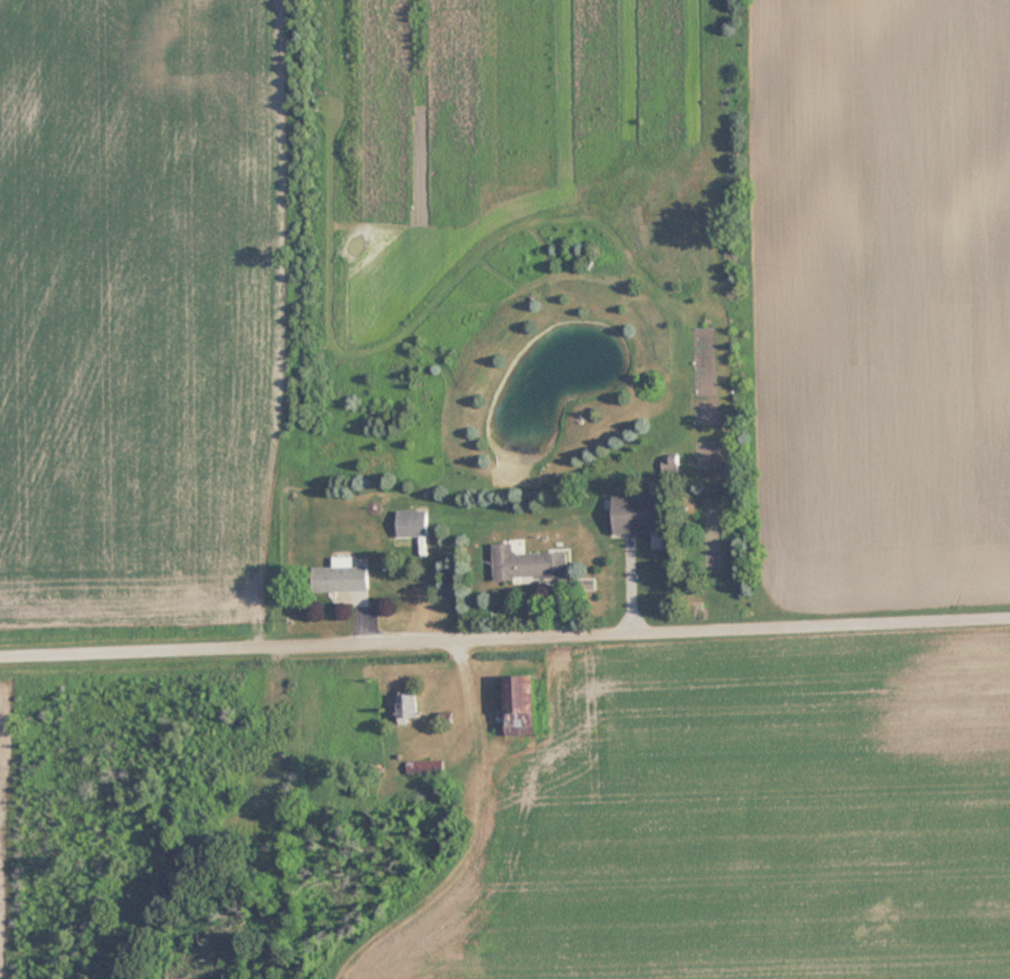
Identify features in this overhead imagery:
building: (639, 513)
building: (413, 522)
building: (529, 563)
building: (342, 575)
road: (505, 628)
building: (521, 704)
building: (408, 706)
building: (425, 766)

